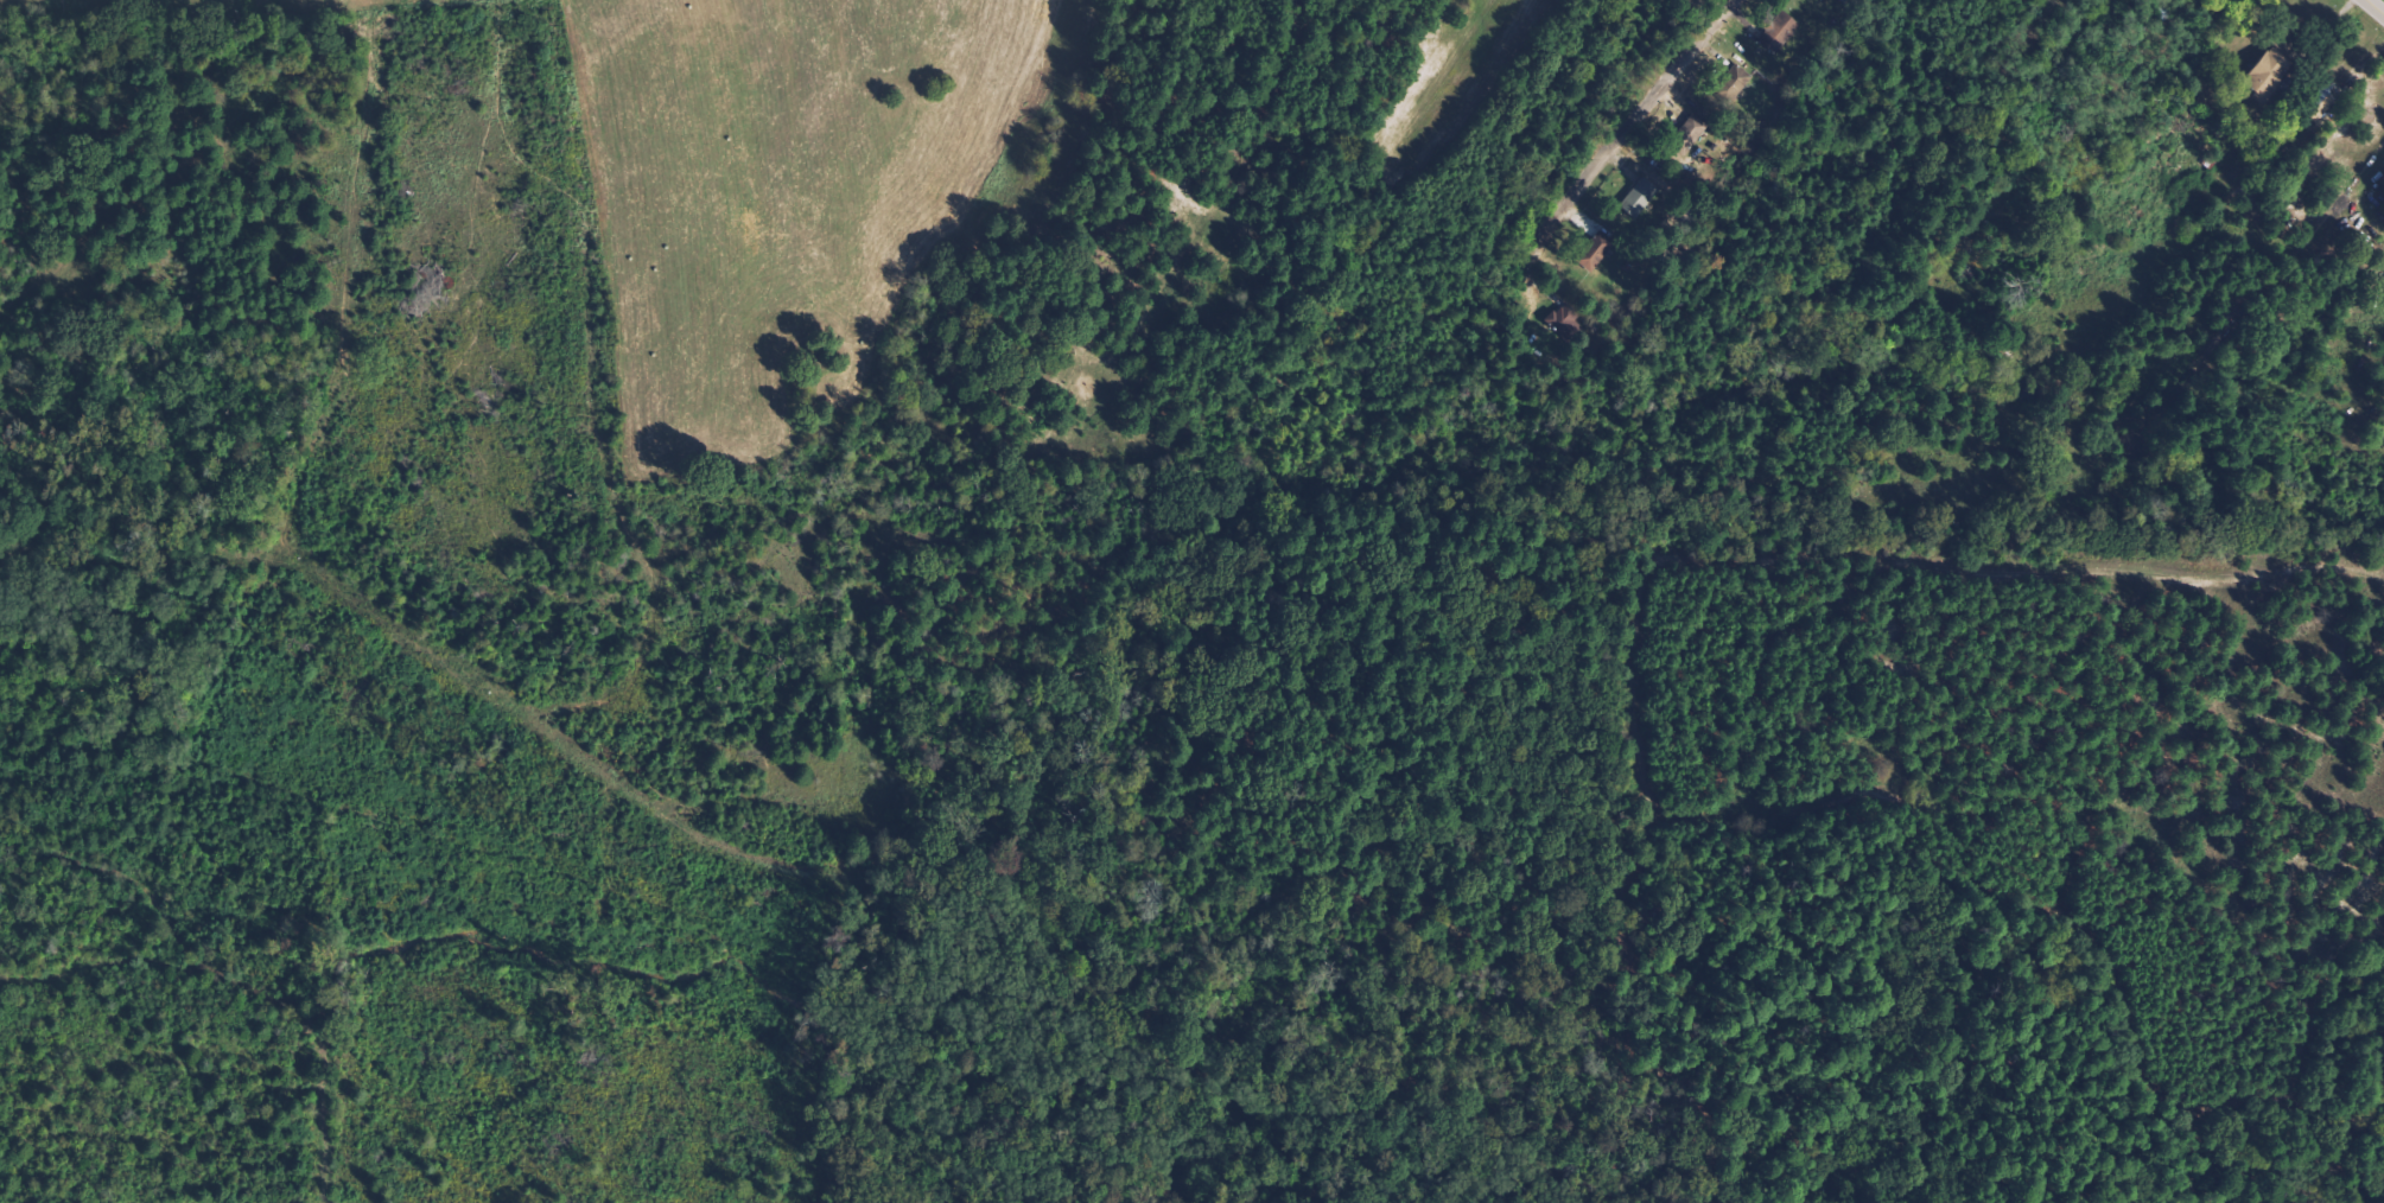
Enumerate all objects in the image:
building: (1822, 0)
road: (2379, 2)
building: (1780, 32)
building: (2270, 72)
building: (1736, 79)
road: (1660, 102)
building: (2321, 103)
building: (1692, 131)
building: (1641, 197)
building: (1597, 252)
building: (1565, 319)

